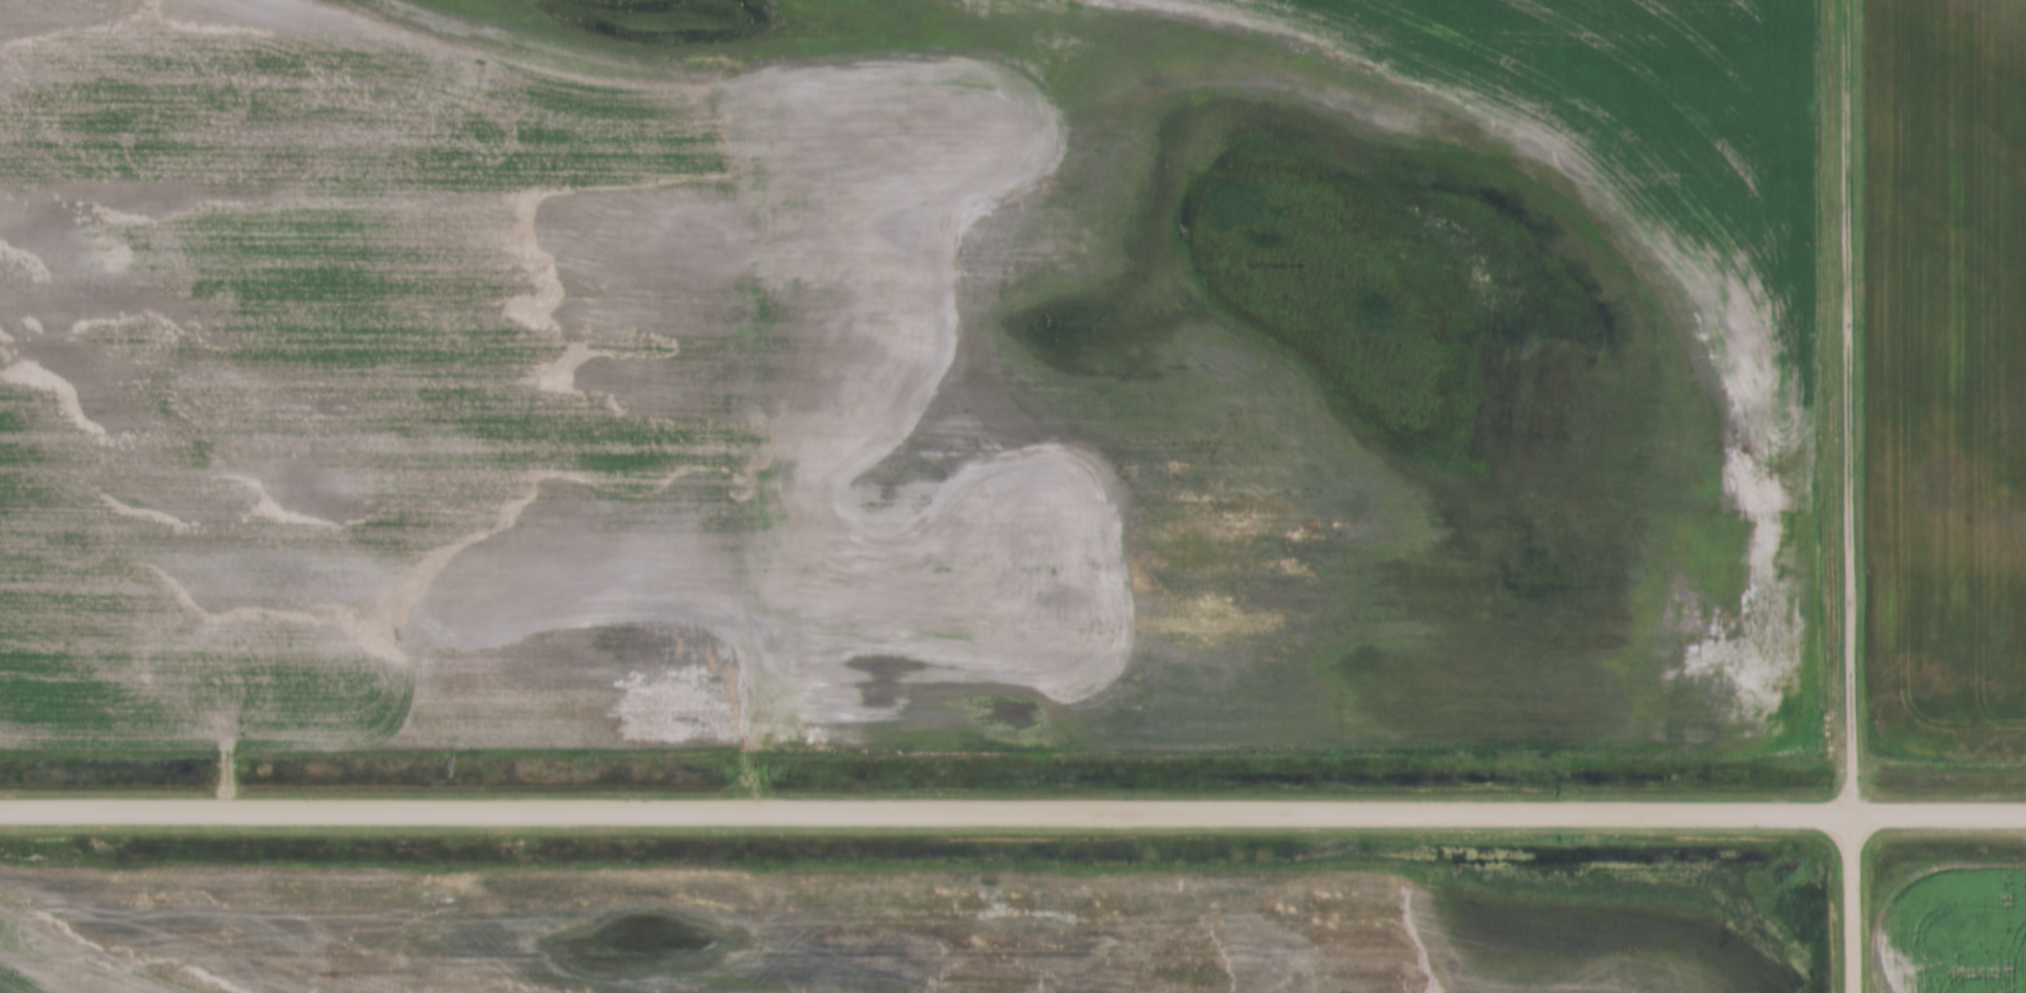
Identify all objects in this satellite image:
crop: (908, 372)
road: (1847, 408)
road: (1013, 812)
road: (1850, 904)

